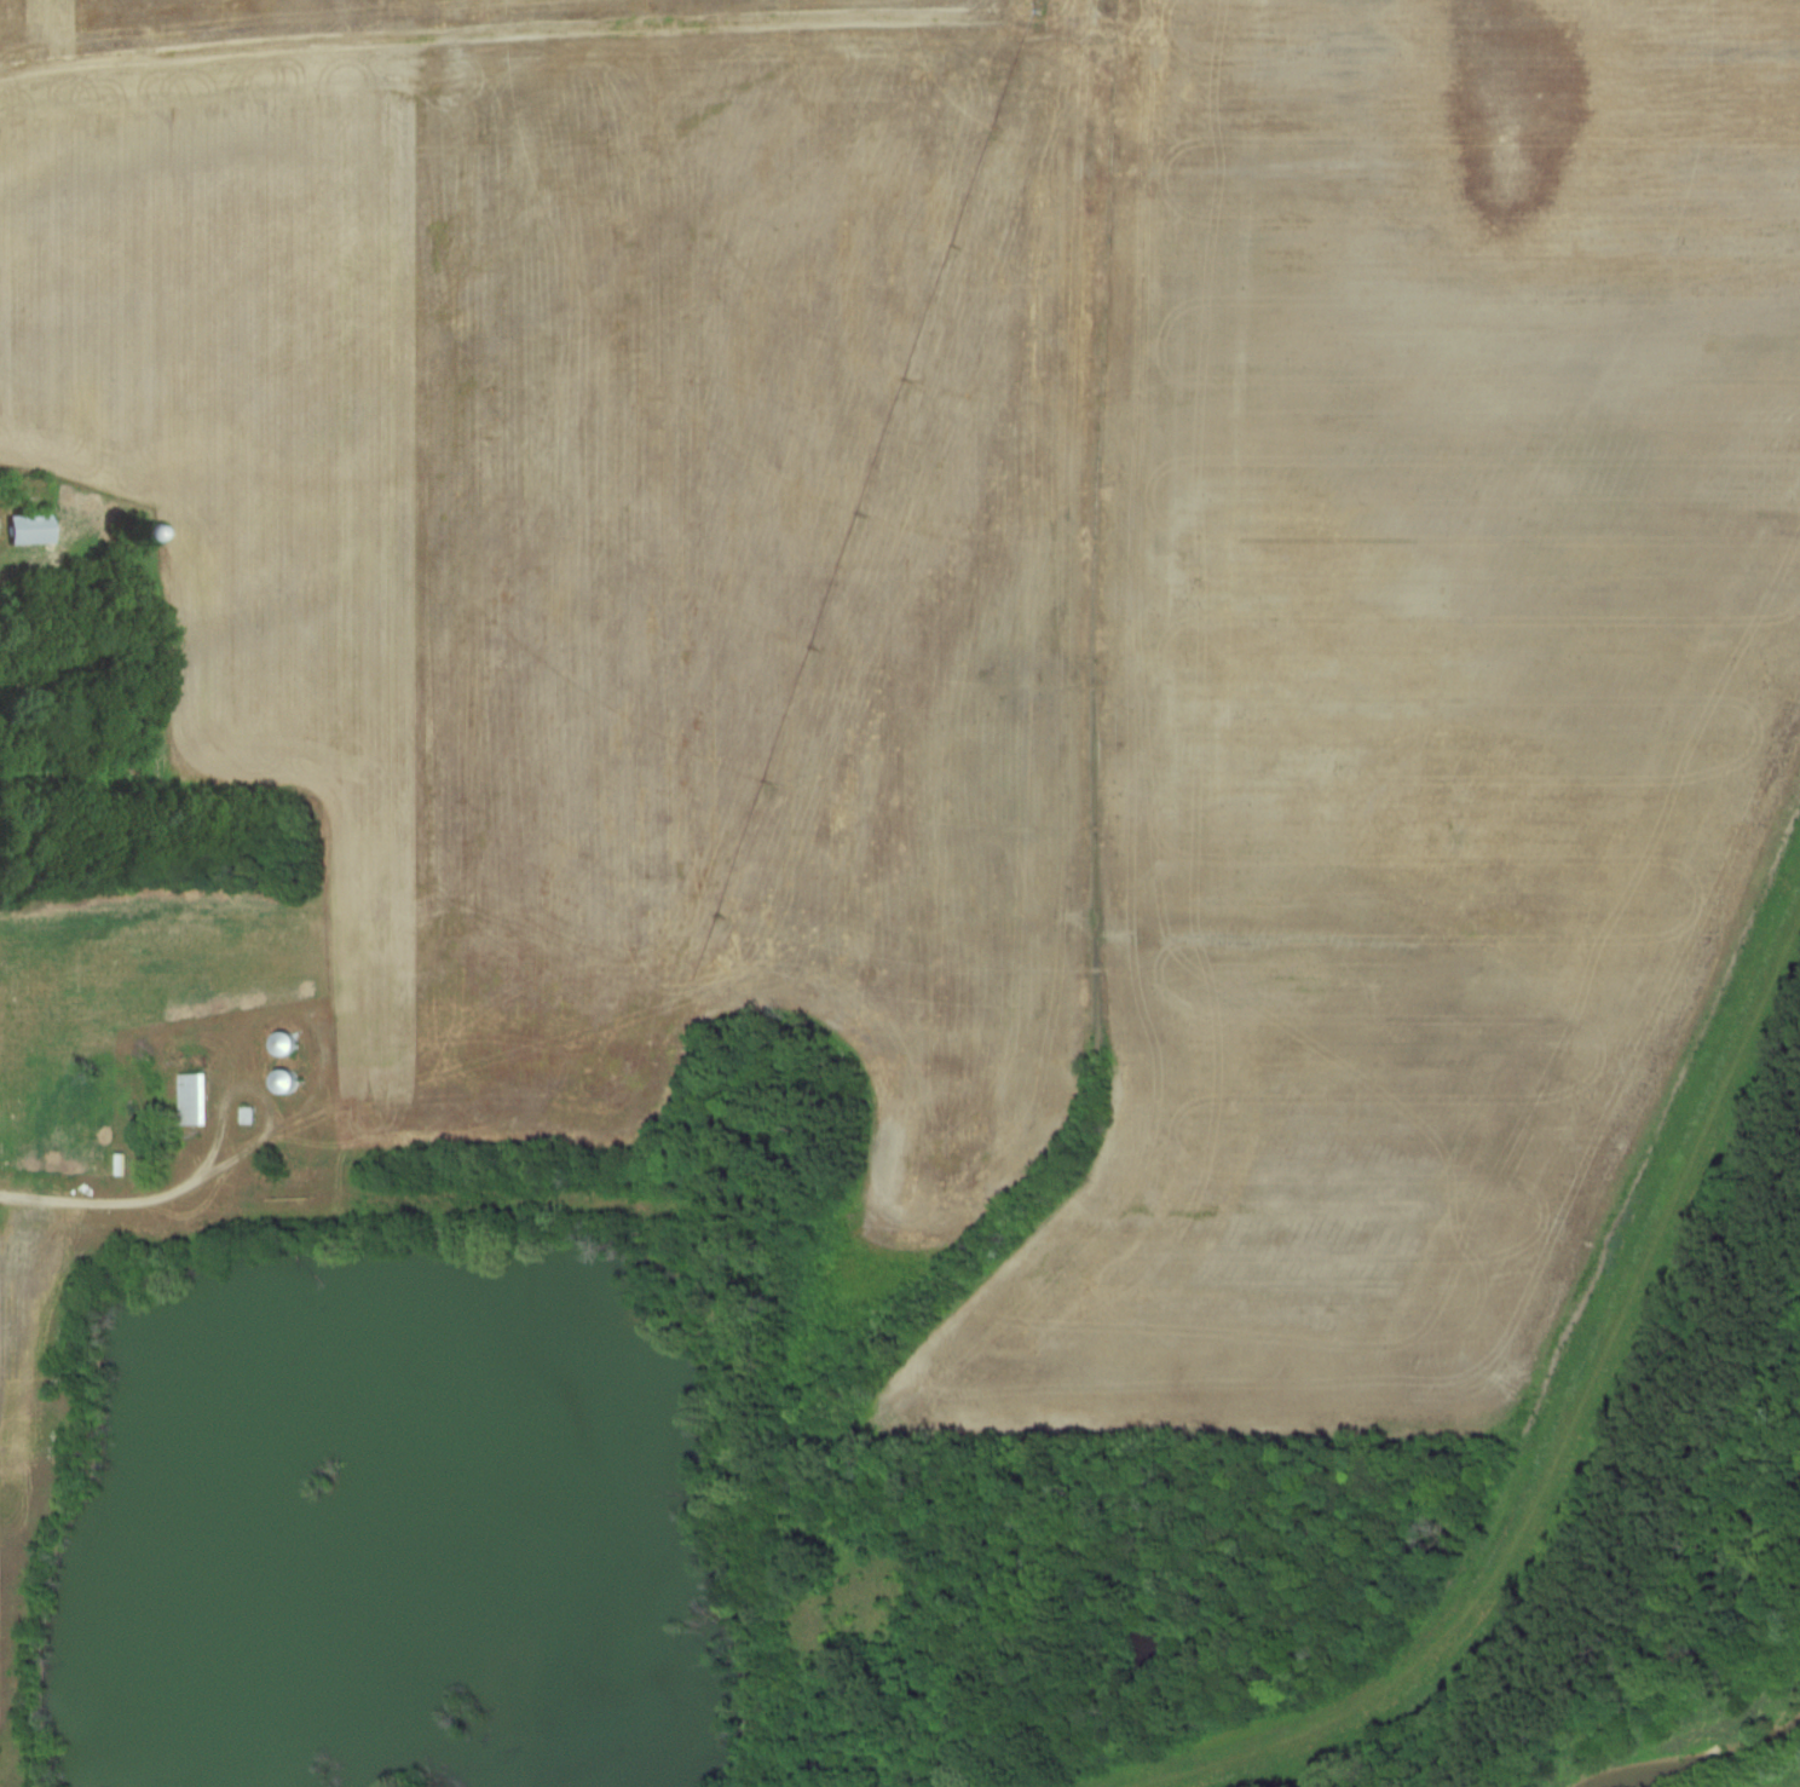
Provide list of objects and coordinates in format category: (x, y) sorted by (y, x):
road: (517, 29)
building: (131, 528)
silo: (131, 528)
building: (31, 531)
road: (318, 1021)
building: (288, 1043)
silo: (288, 1043)
building: (288, 1080)
silo: (288, 1080)
building: (195, 1097)
building: (248, 1116)
road: (99, 1201)
river: (1697, 1759)

